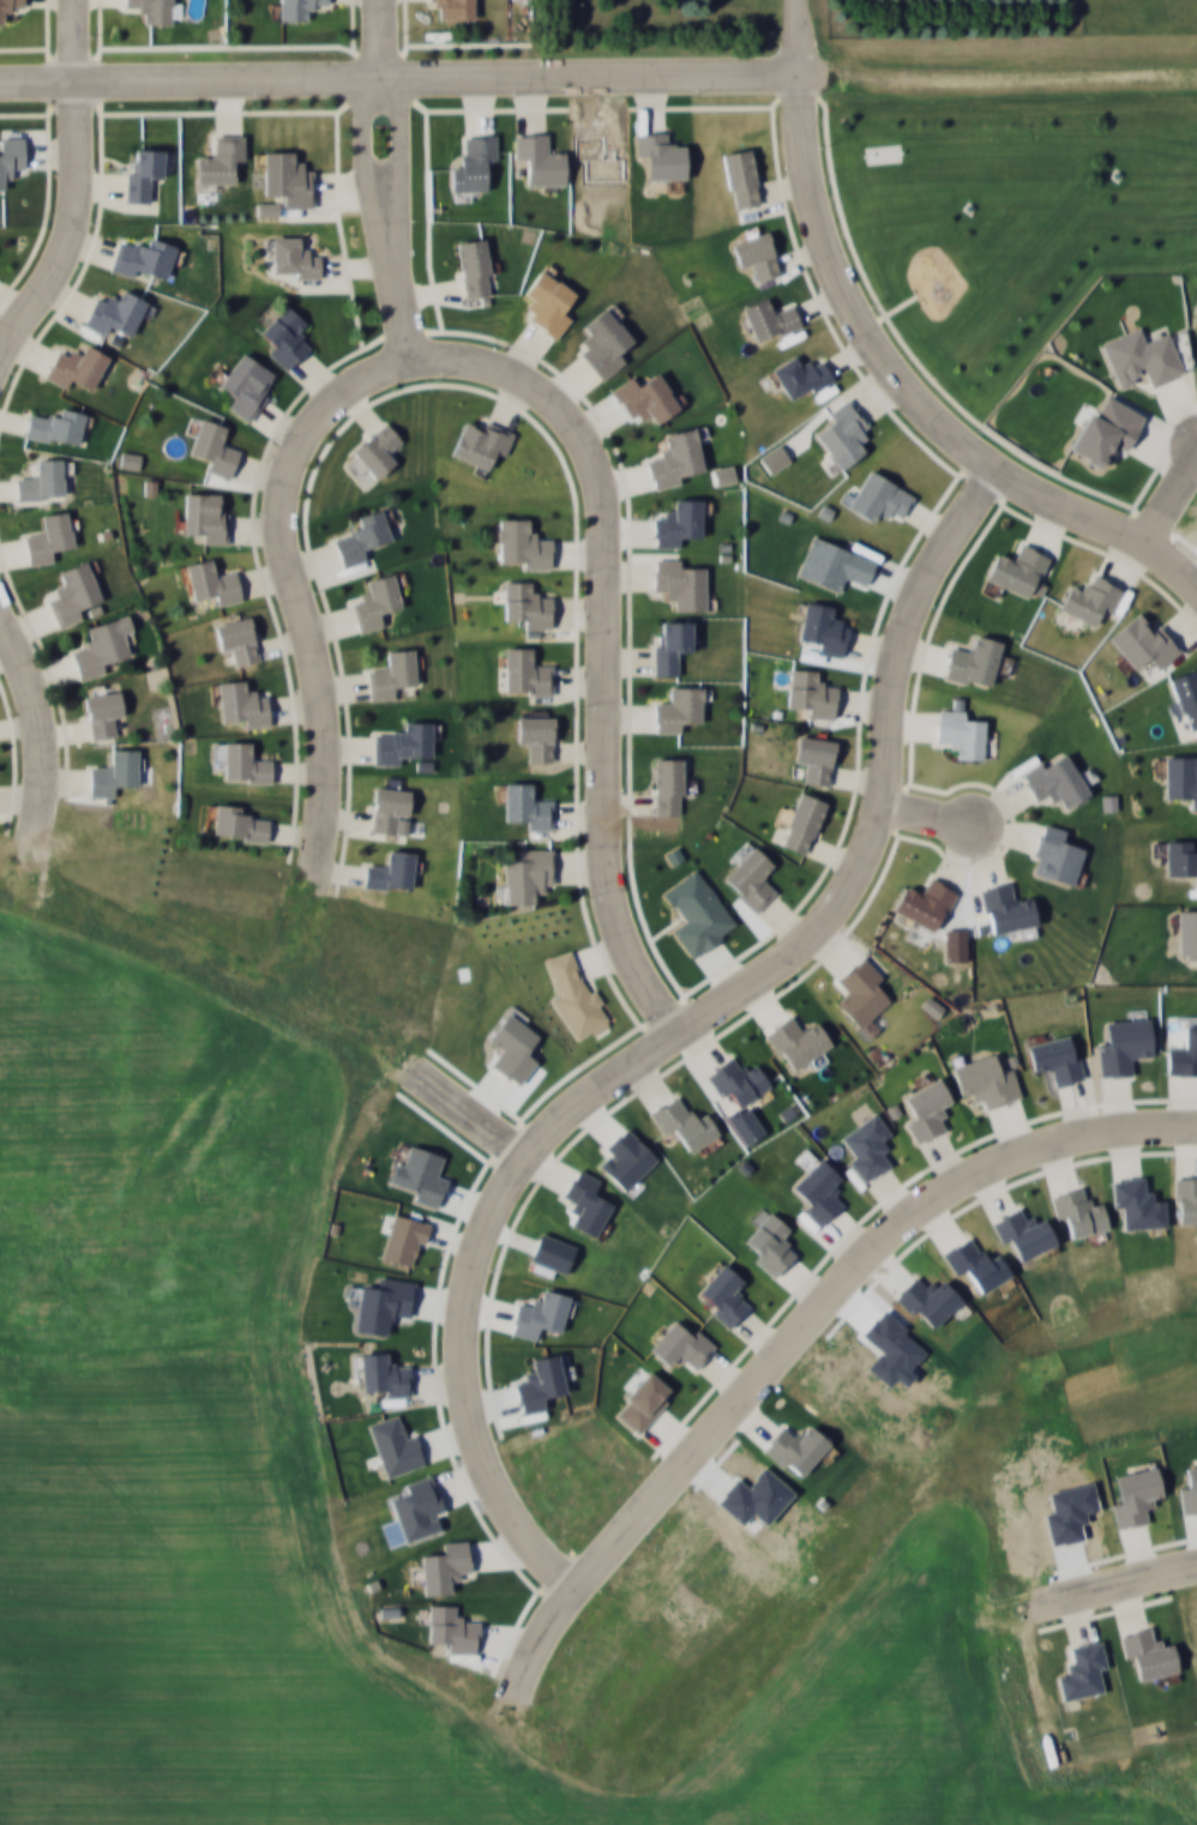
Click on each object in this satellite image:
building: (8, 8)
building: (297, 8)
building: (455, 8)
building: (151, 10)
road: (598, 76)
building: (661, 153)
building: (10, 155)
building: (219, 158)
building: (540, 158)
building: (474, 162)
building: (143, 173)
building: (740, 176)
building: (288, 177)
road: (383, 177)
road: (73, 186)
building: (756, 254)
building: (293, 258)
building: (144, 259)
building: (474, 266)
building: (547, 302)
building: (114, 312)
building: (769, 319)
building: (1195, 319)
building: (287, 336)
building: (603, 342)
building: (1142, 356)
building: (77, 365)
road: (889, 367)
building: (801, 377)
building: (247, 384)
building: (645, 398)
building: (55, 426)
building: (843, 435)
building: (480, 442)
building: (215, 446)
building: (374, 451)
building: (675, 458)
building: (775, 458)
building: (42, 481)
building: (878, 496)
road: (1171, 501)
building: (206, 517)
building: (676, 522)
building: (361, 536)
building: (48, 537)
building: (522, 543)
building: (1017, 570)
building: (212, 580)
building: (679, 584)
road: (295, 585)
building: (73, 592)
building: (1090, 598)
building: (377, 601)
building: (527, 604)
building: (824, 627)
road: (602, 638)
building: (237, 639)
building: (1143, 642)
building: (669, 644)
building: (101, 645)
building: (973, 661)
building: (523, 670)
building: (391, 673)
building: (811, 692)
building: (1185, 695)
building: (242, 701)
building: (678, 706)
building: (103, 712)
building: (957, 733)
road: (36, 735)
building: (536, 736)
building: (403, 742)
building: (816, 759)
building: (243, 763)
building: (113, 771)
building: (1180, 777)
building: (1054, 779)
road: (879, 781)
building: (667, 784)
building: (528, 805)
building: (390, 809)
road: (925, 815)
building: (236, 821)
building: (801, 821)
building: (1054, 855)
building: (1179, 857)
building: (390, 871)
building: (527, 873)
building: (751, 879)
building: (924, 903)
building: (1006, 909)
building: (1186, 934)
building: (860, 990)
building: (575, 994)
building: (798, 1041)
building: (736, 1079)
building: (985, 1080)
building: (682, 1121)
road: (465, 1132)
building: (867, 1146)
building: (1185, 1198)
building: (1078, 1211)
building: (975, 1263)
road: (467, 1282)
road: (796, 1335)
road: (1123, 1577)
building: (1148, 1652)

